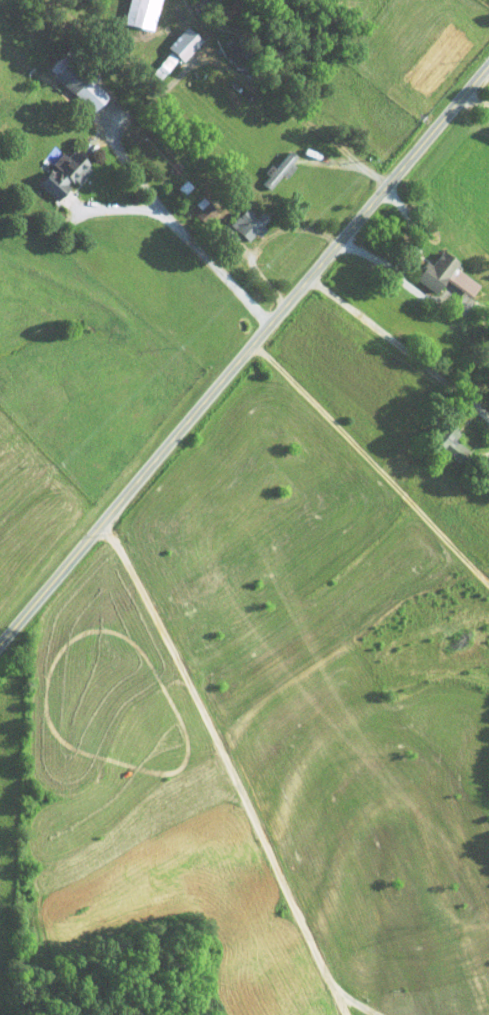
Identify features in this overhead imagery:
building: (140, 12)
building: (175, 49)
building: (76, 83)
road: (480, 93)
road: (150, 102)
road: (276, 102)
road: (477, 108)
road: (127, 162)
road: (351, 165)
building: (279, 169)
building: (61, 173)
building: (247, 224)
road: (187, 239)
road: (266, 241)
road: (410, 255)
building: (443, 274)
road: (392, 343)
road: (242, 358)
building: (447, 441)
road: (373, 462)
road: (225, 769)
road: (354, 1000)

